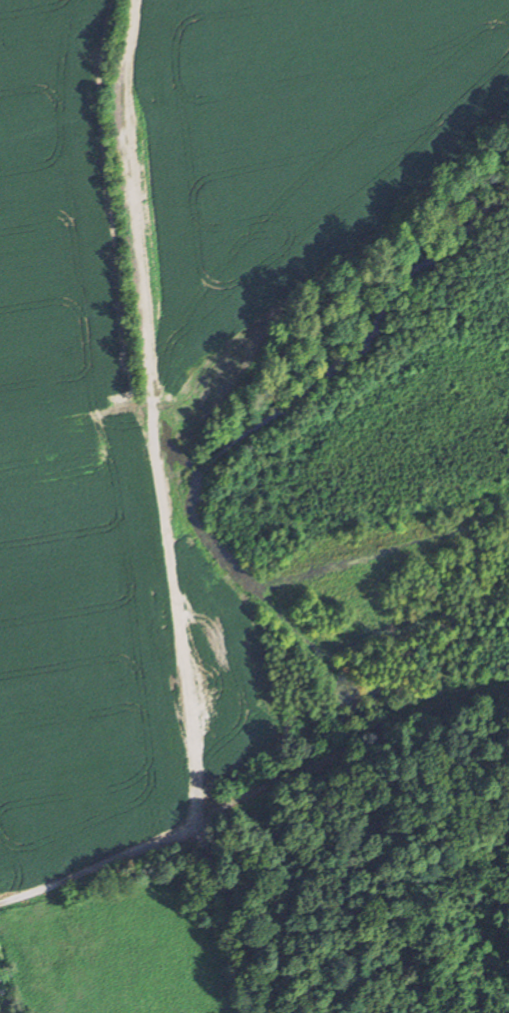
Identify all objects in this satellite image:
road: (152, 518)

